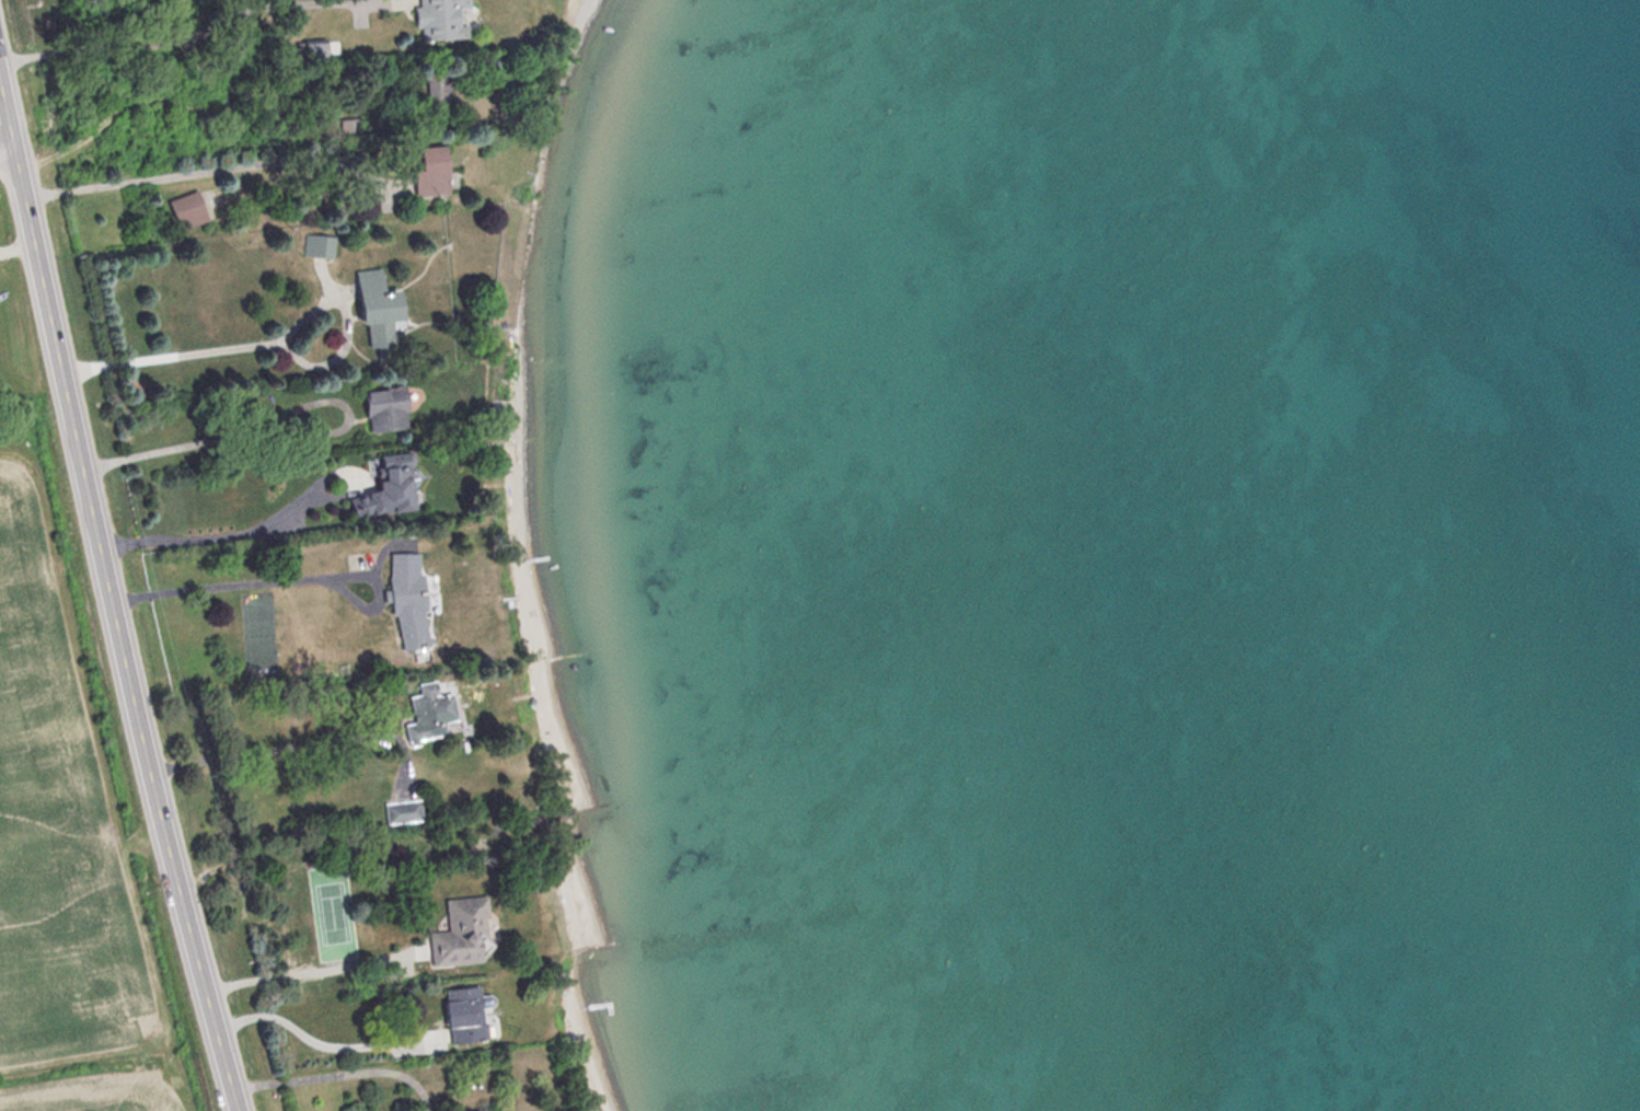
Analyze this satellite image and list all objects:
building: (435, 20)
road: (8, 154)
building: (317, 248)
building: (370, 310)
building: (381, 410)
building: (378, 491)
road: (113, 595)
building: (403, 602)
building: (421, 713)
park: (334, 914)
building: (457, 933)
building: (459, 1016)

